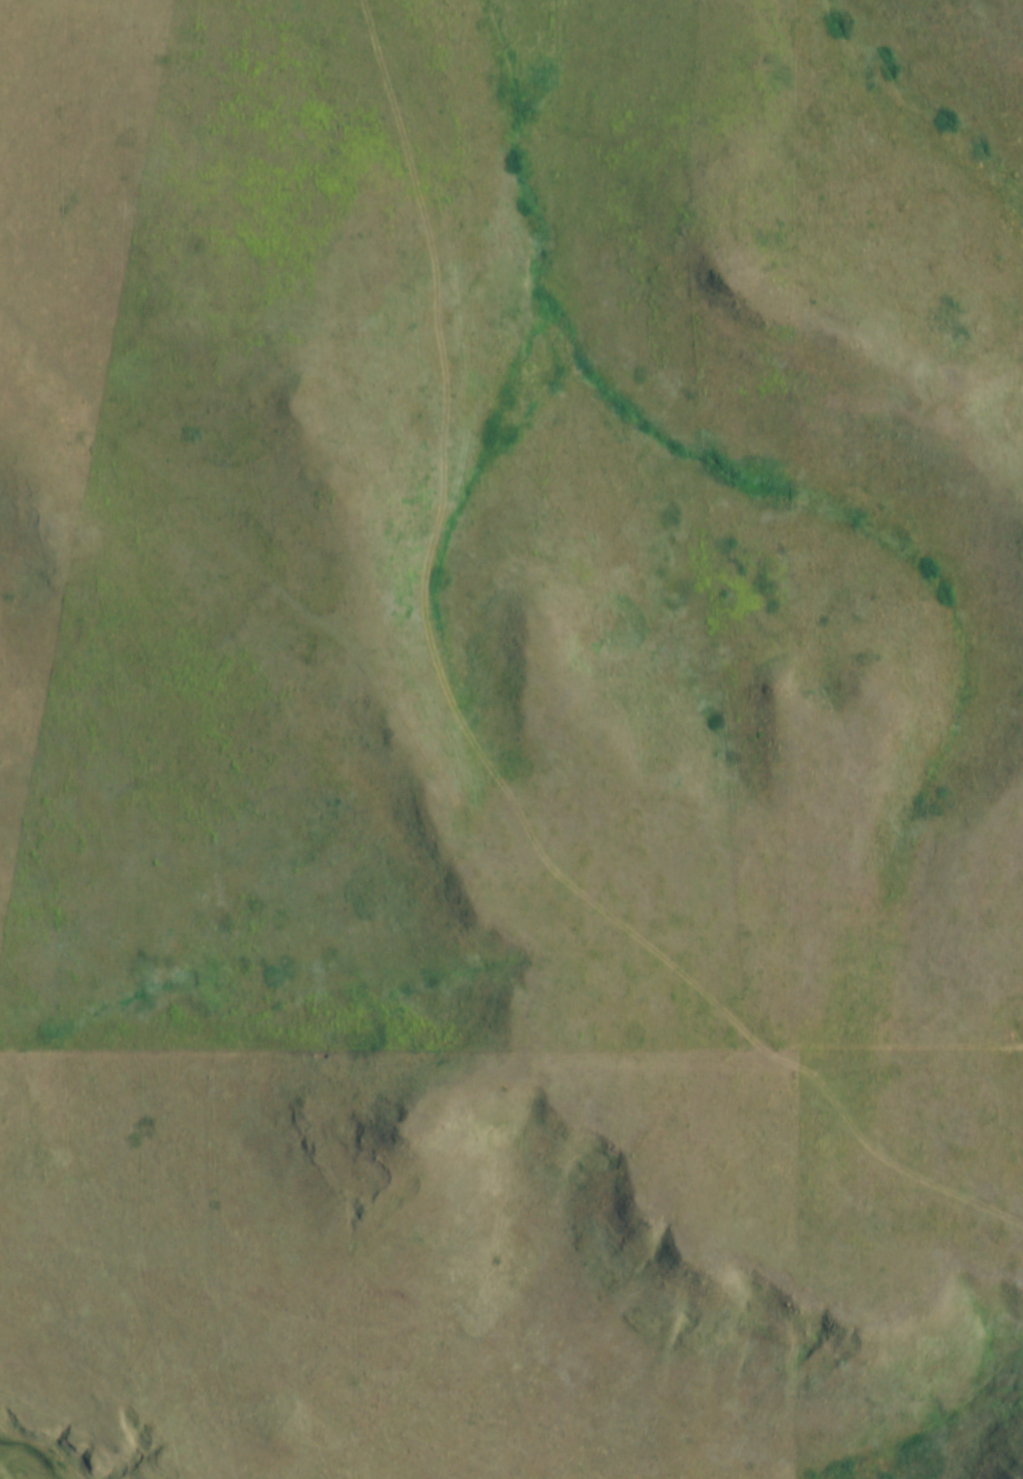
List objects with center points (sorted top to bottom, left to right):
road: (866, 1142)

